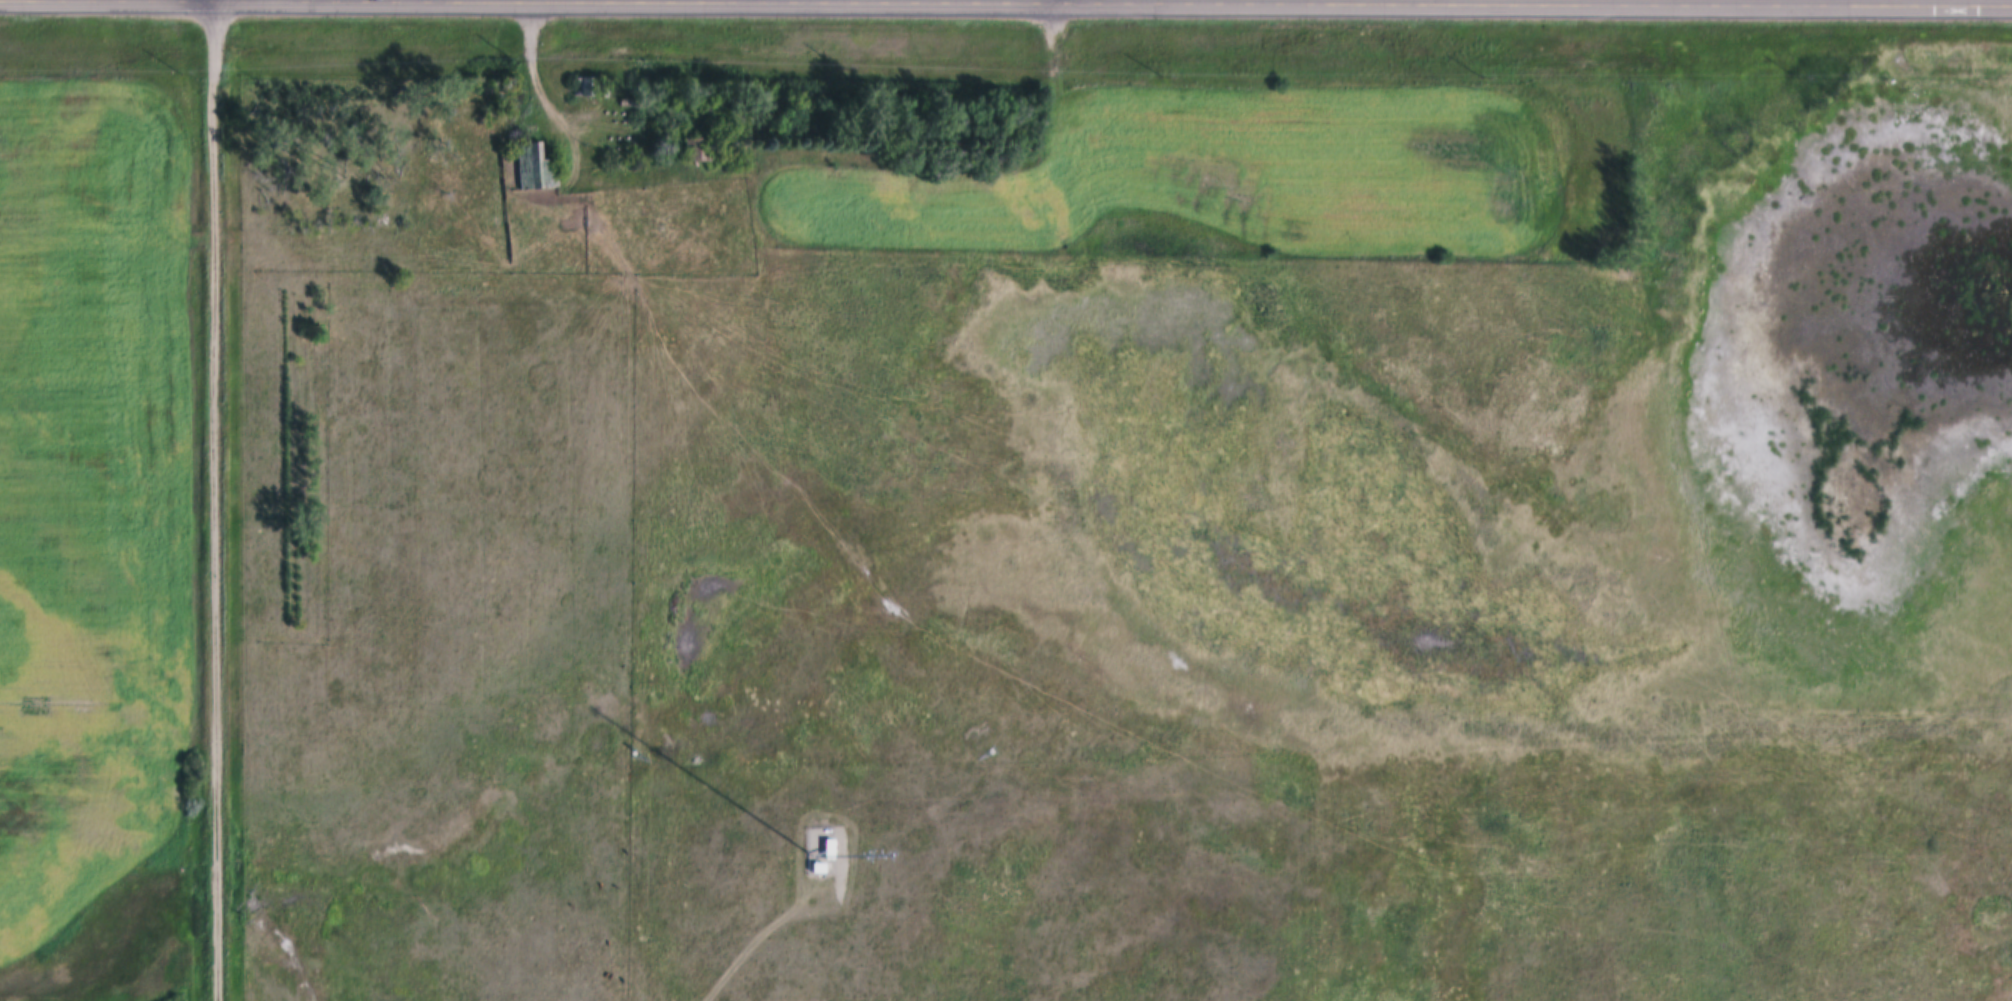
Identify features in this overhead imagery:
road: (1734, 2)
building: (590, 86)
building: (698, 149)
building: (538, 167)
road: (217, 500)
building: (821, 837)
building: (810, 857)

